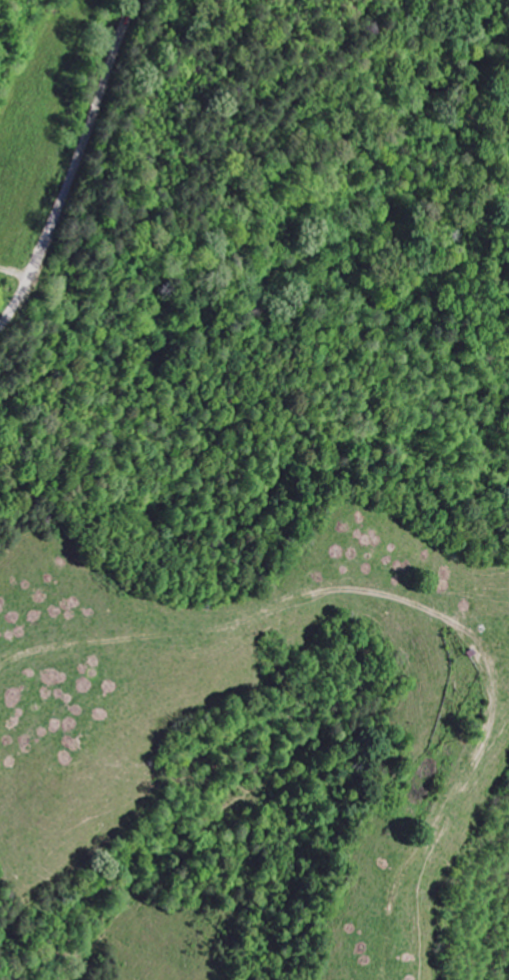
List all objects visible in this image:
road: (75, 168)
road: (14, 274)

